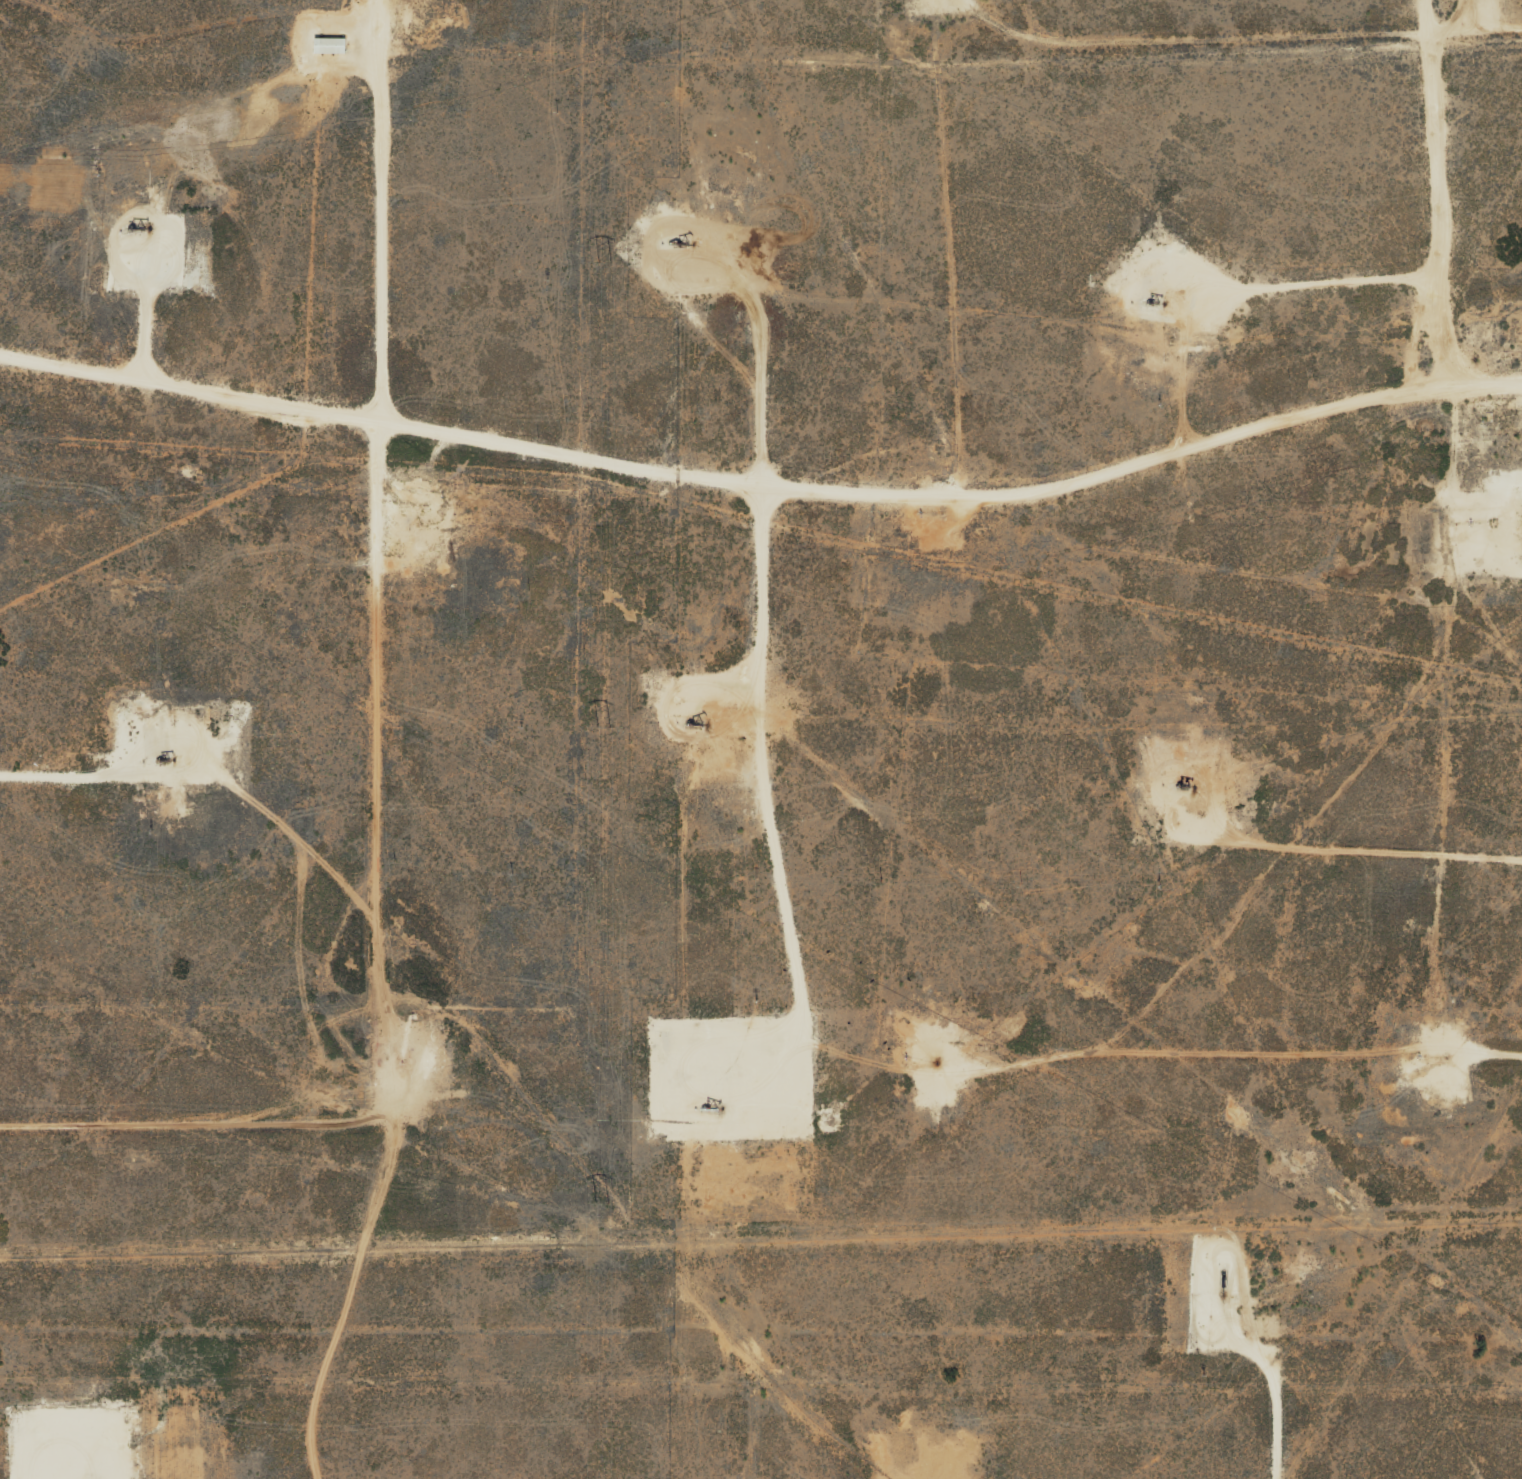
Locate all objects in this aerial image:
road: (1016, 32)
road: (1439, 184)
power tower: (606, 262)
road: (765, 477)
power tower: (601, 728)
road: (392, 742)
road: (1281, 1067)
power tower: (605, 1204)

